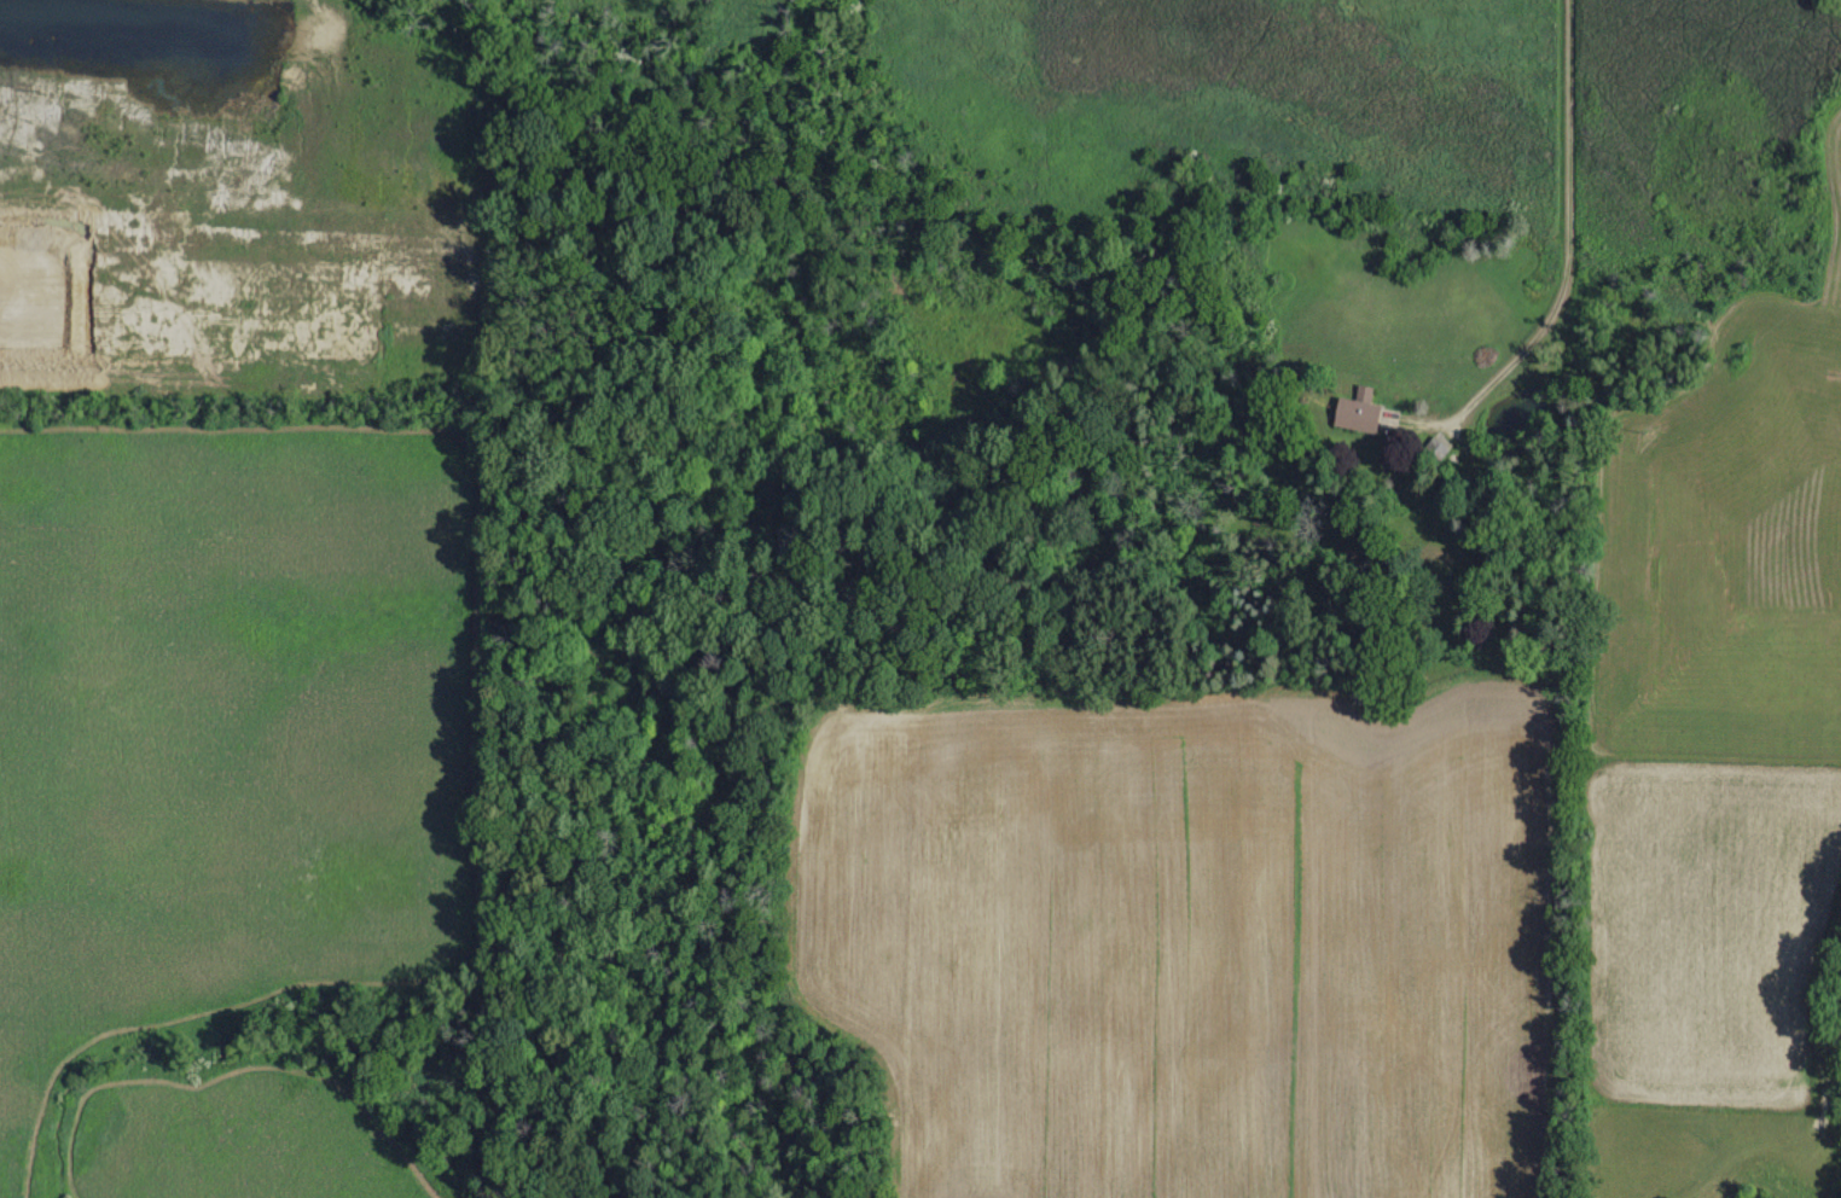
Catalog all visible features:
road: (1570, 264)
building: (1355, 412)
building: (1435, 449)
road: (475, 739)
road: (246, 1066)

